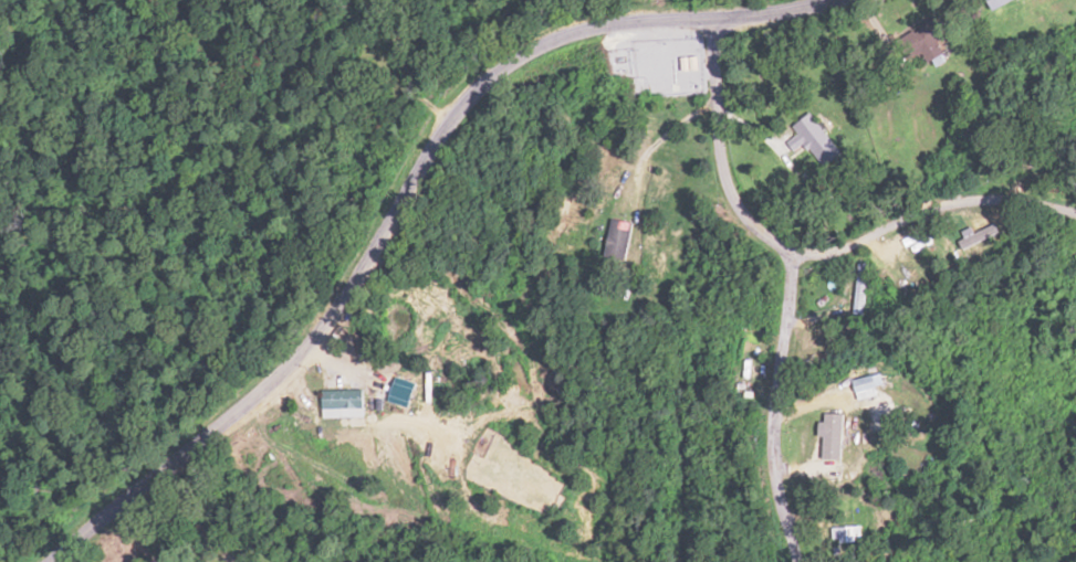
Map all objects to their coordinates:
road: (365, 25)
building: (929, 39)
building: (814, 141)
building: (1024, 176)
road: (376, 232)
road: (812, 235)
building: (619, 238)
building: (860, 288)
building: (748, 362)
building: (866, 382)
building: (442, 396)
building: (344, 401)
road: (775, 407)
building: (378, 410)
building: (828, 441)
building: (844, 539)

